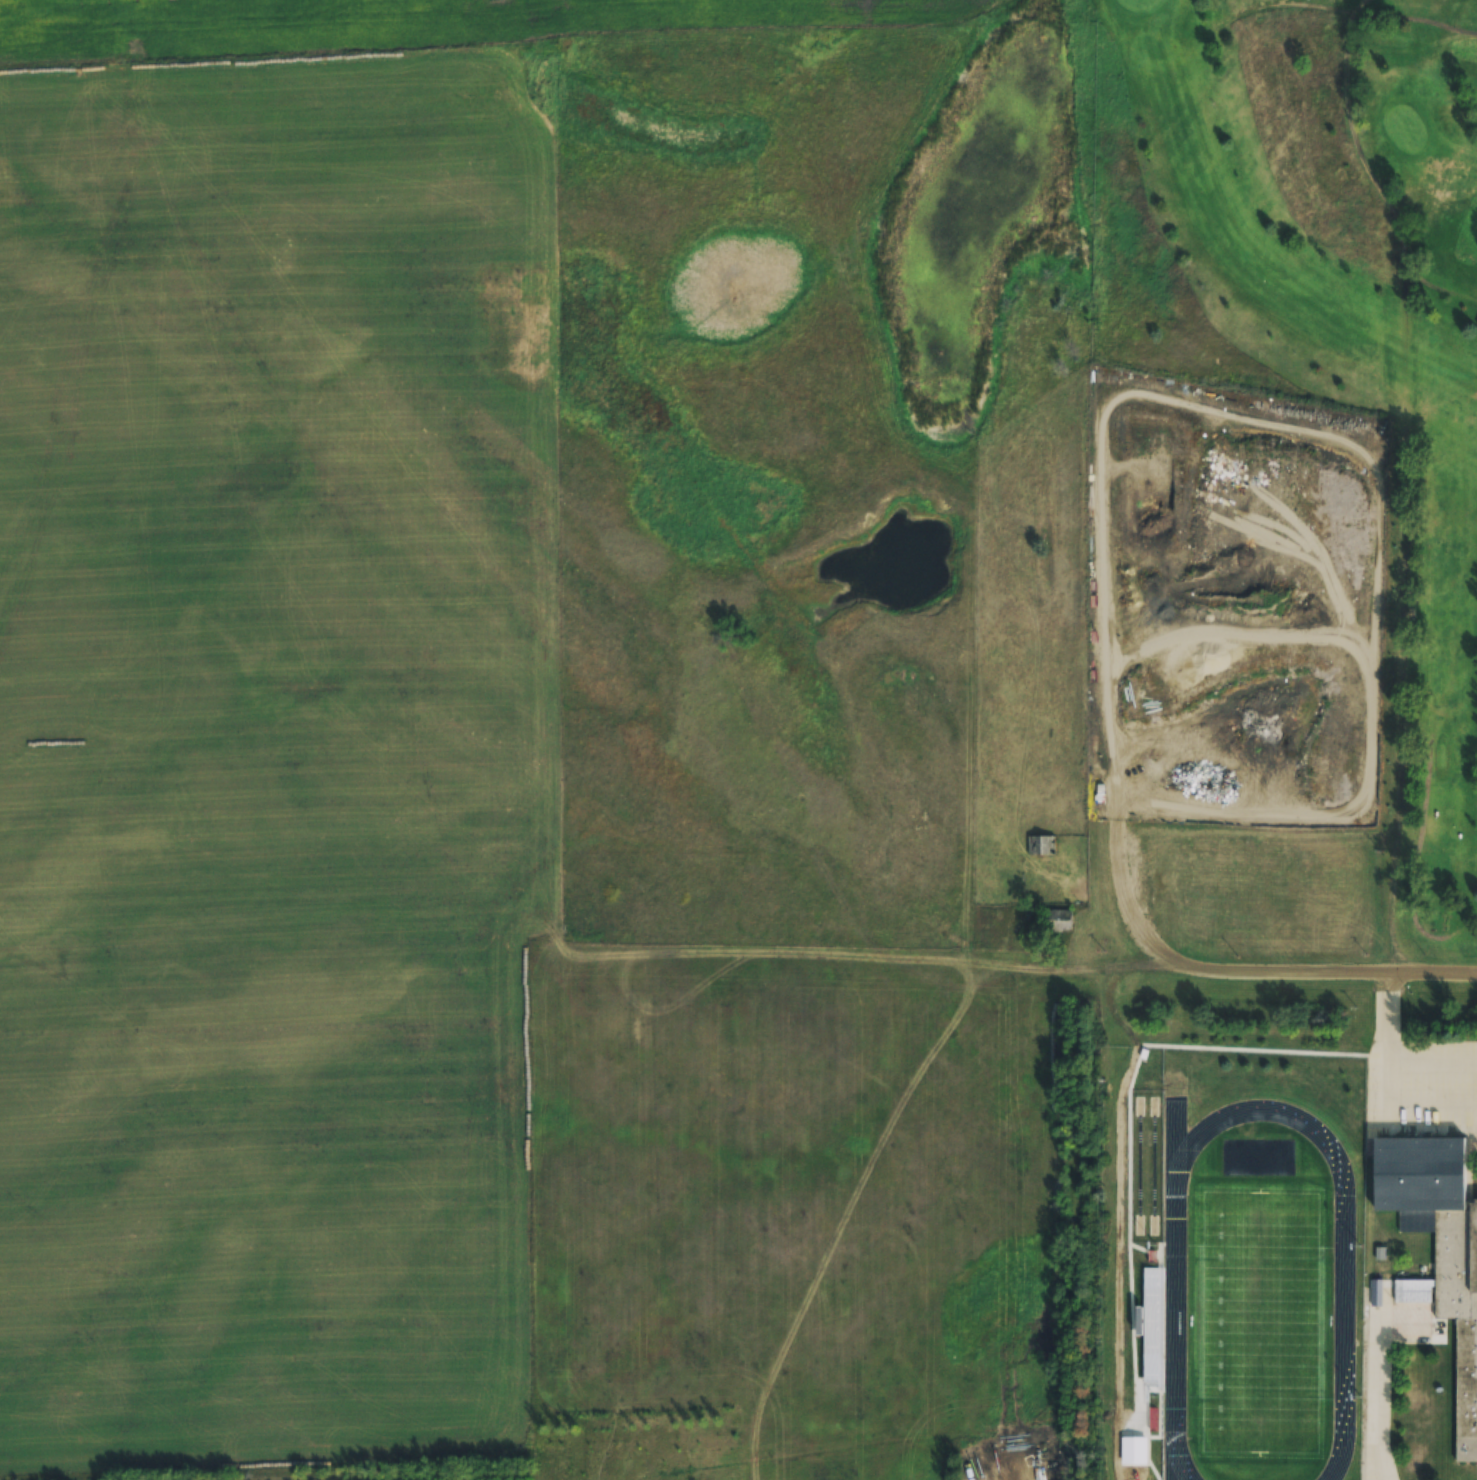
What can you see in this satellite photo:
road: (1333, 8)
road: (1352, 147)
road: (1435, 285)
park: (1314, 312)
building: (1101, 792)
building: (1041, 845)
road: (1414, 867)
road: (1120, 887)
building: (1057, 920)
road: (1298, 985)
park: (1135, 1129)
building: (1437, 1251)
park: (1255, 1313)
track: (1173, 1324)

